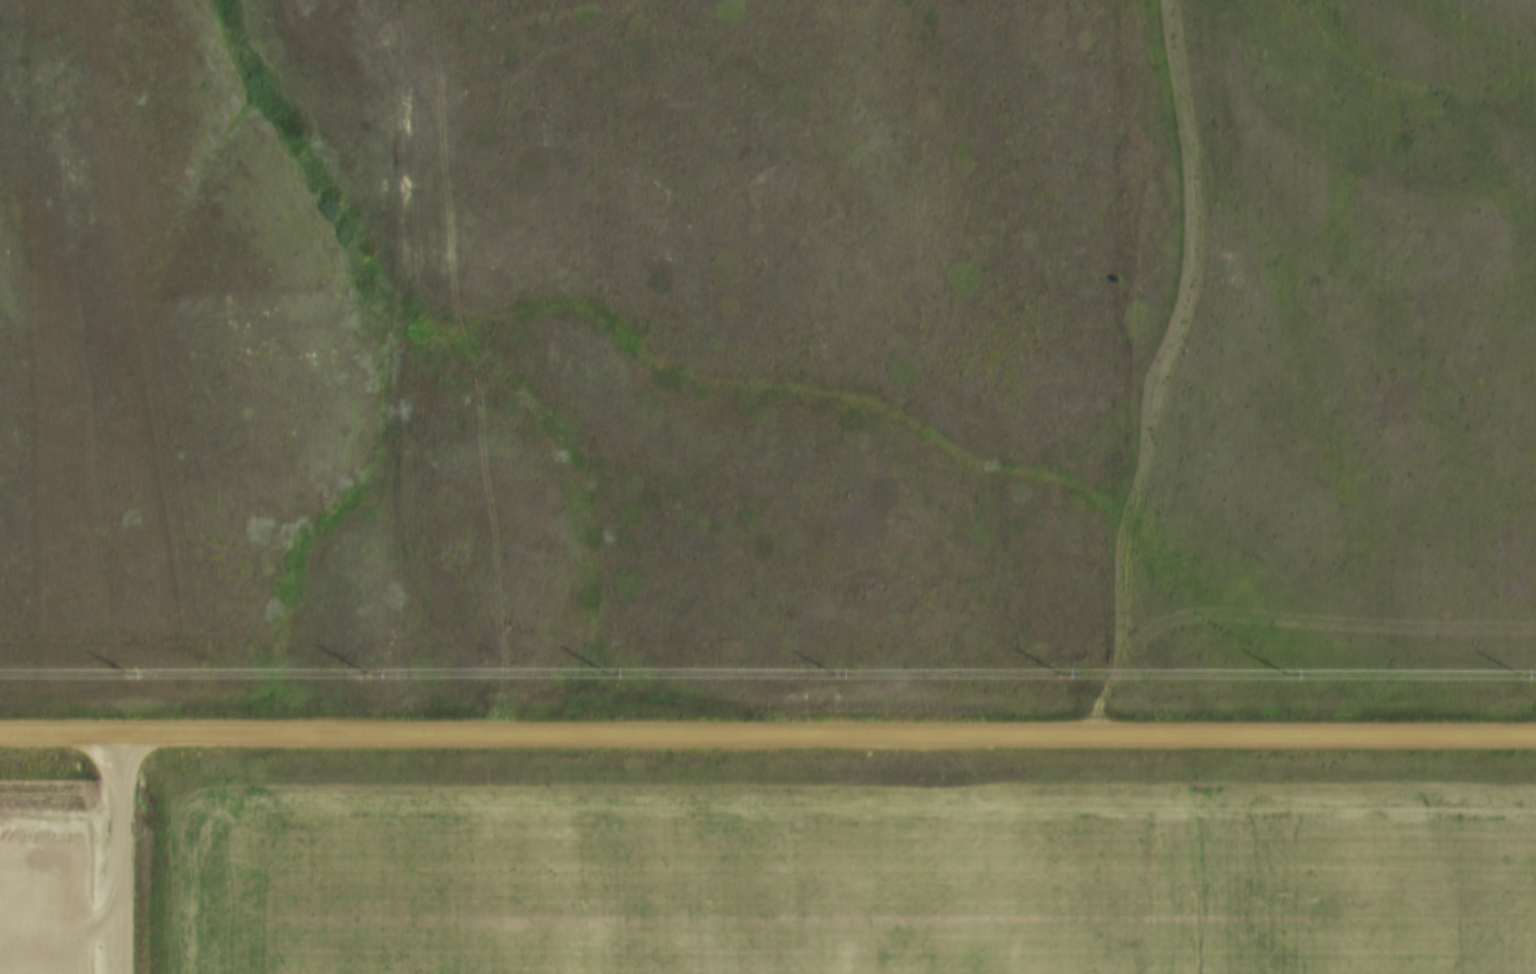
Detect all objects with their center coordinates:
road: (768, 737)

